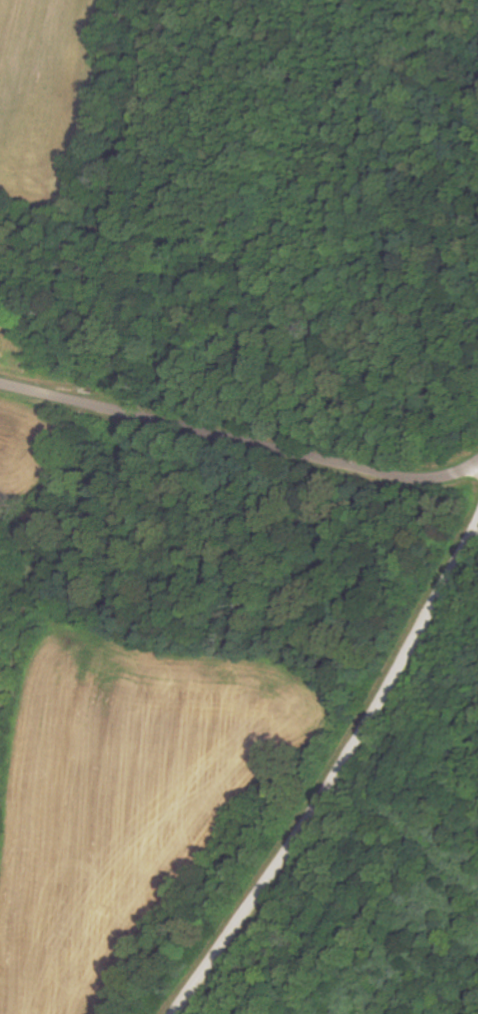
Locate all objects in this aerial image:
road: (239, 441)
road: (335, 777)

